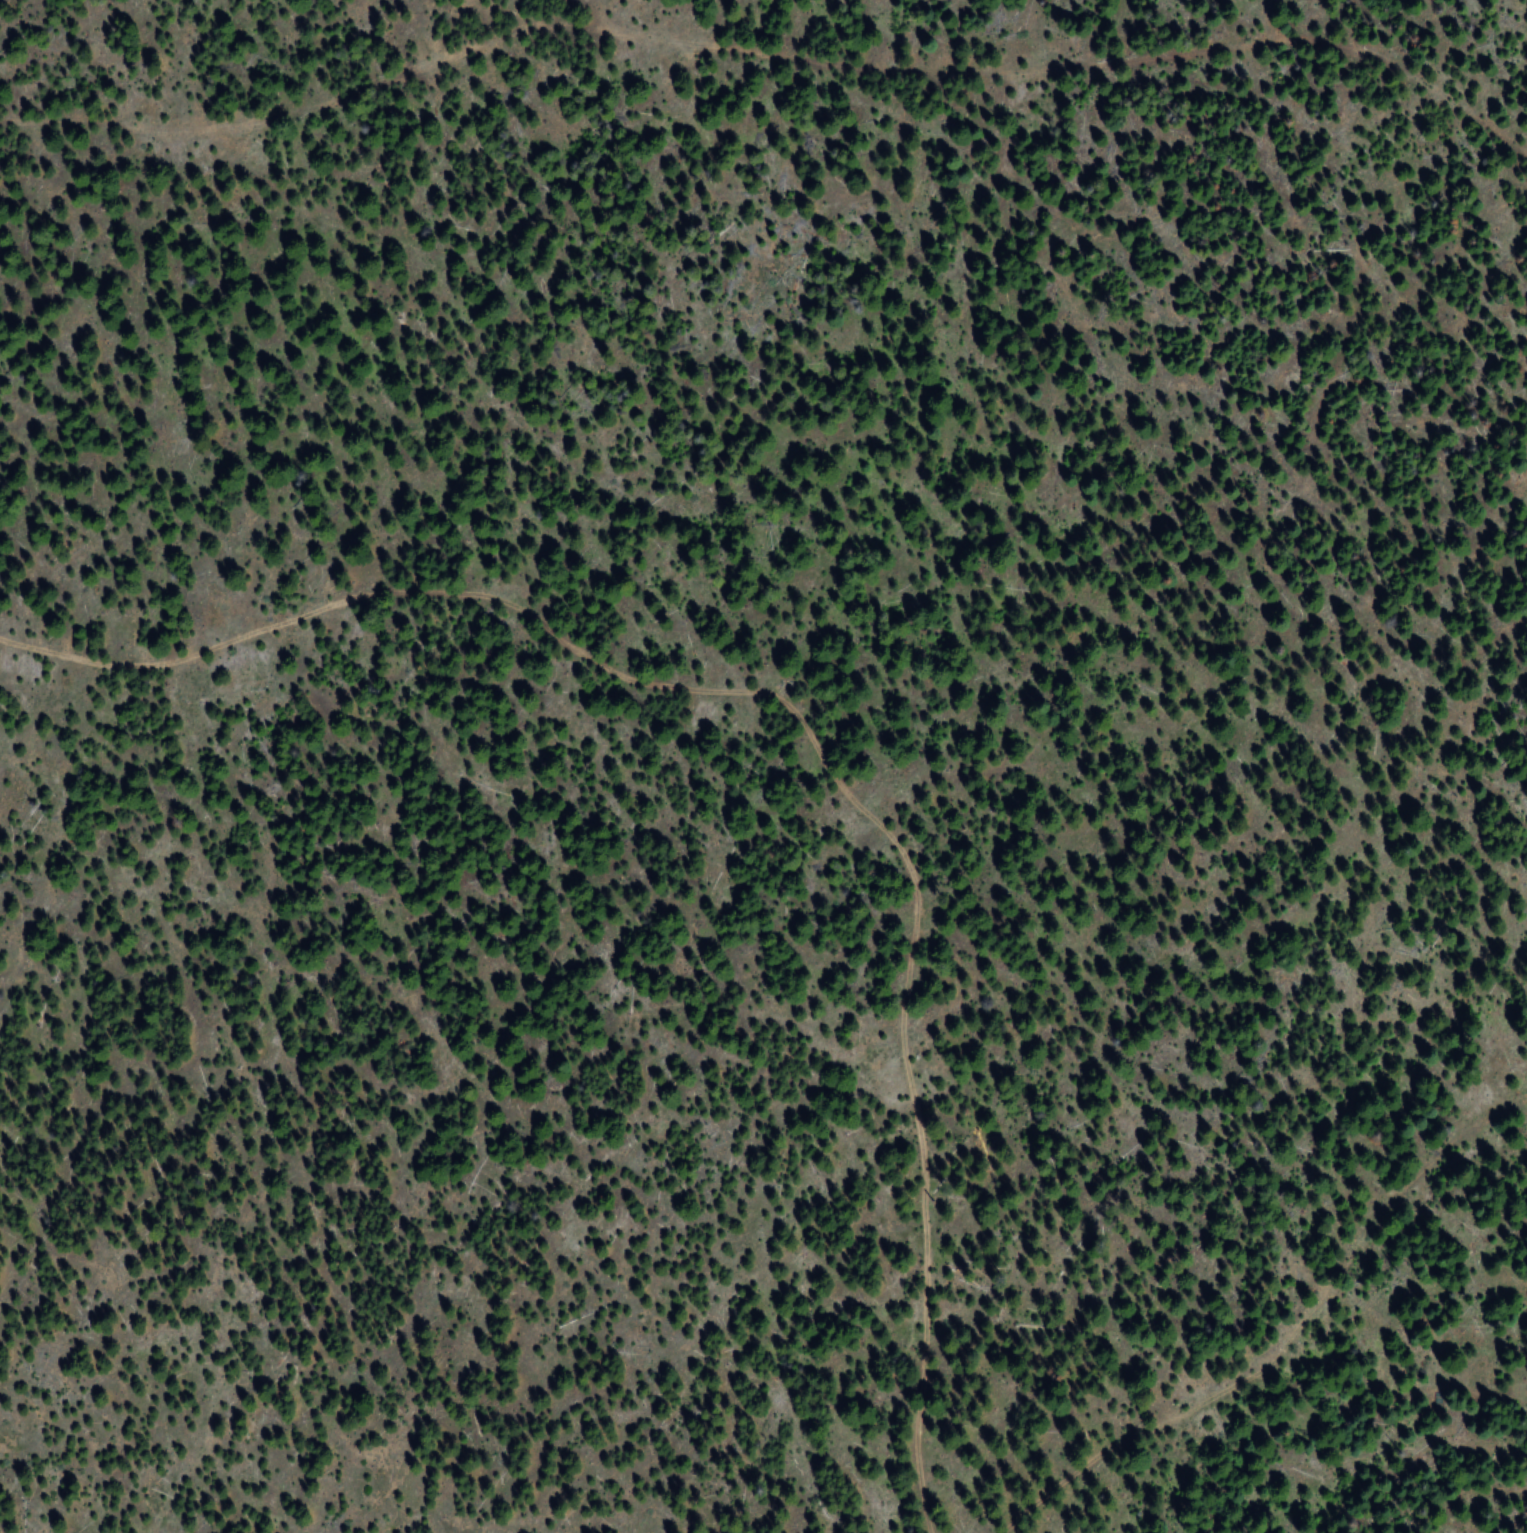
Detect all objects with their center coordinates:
road: (769, 51)
road: (804, 717)
road: (1285, 1341)
road: (1404, 1405)

